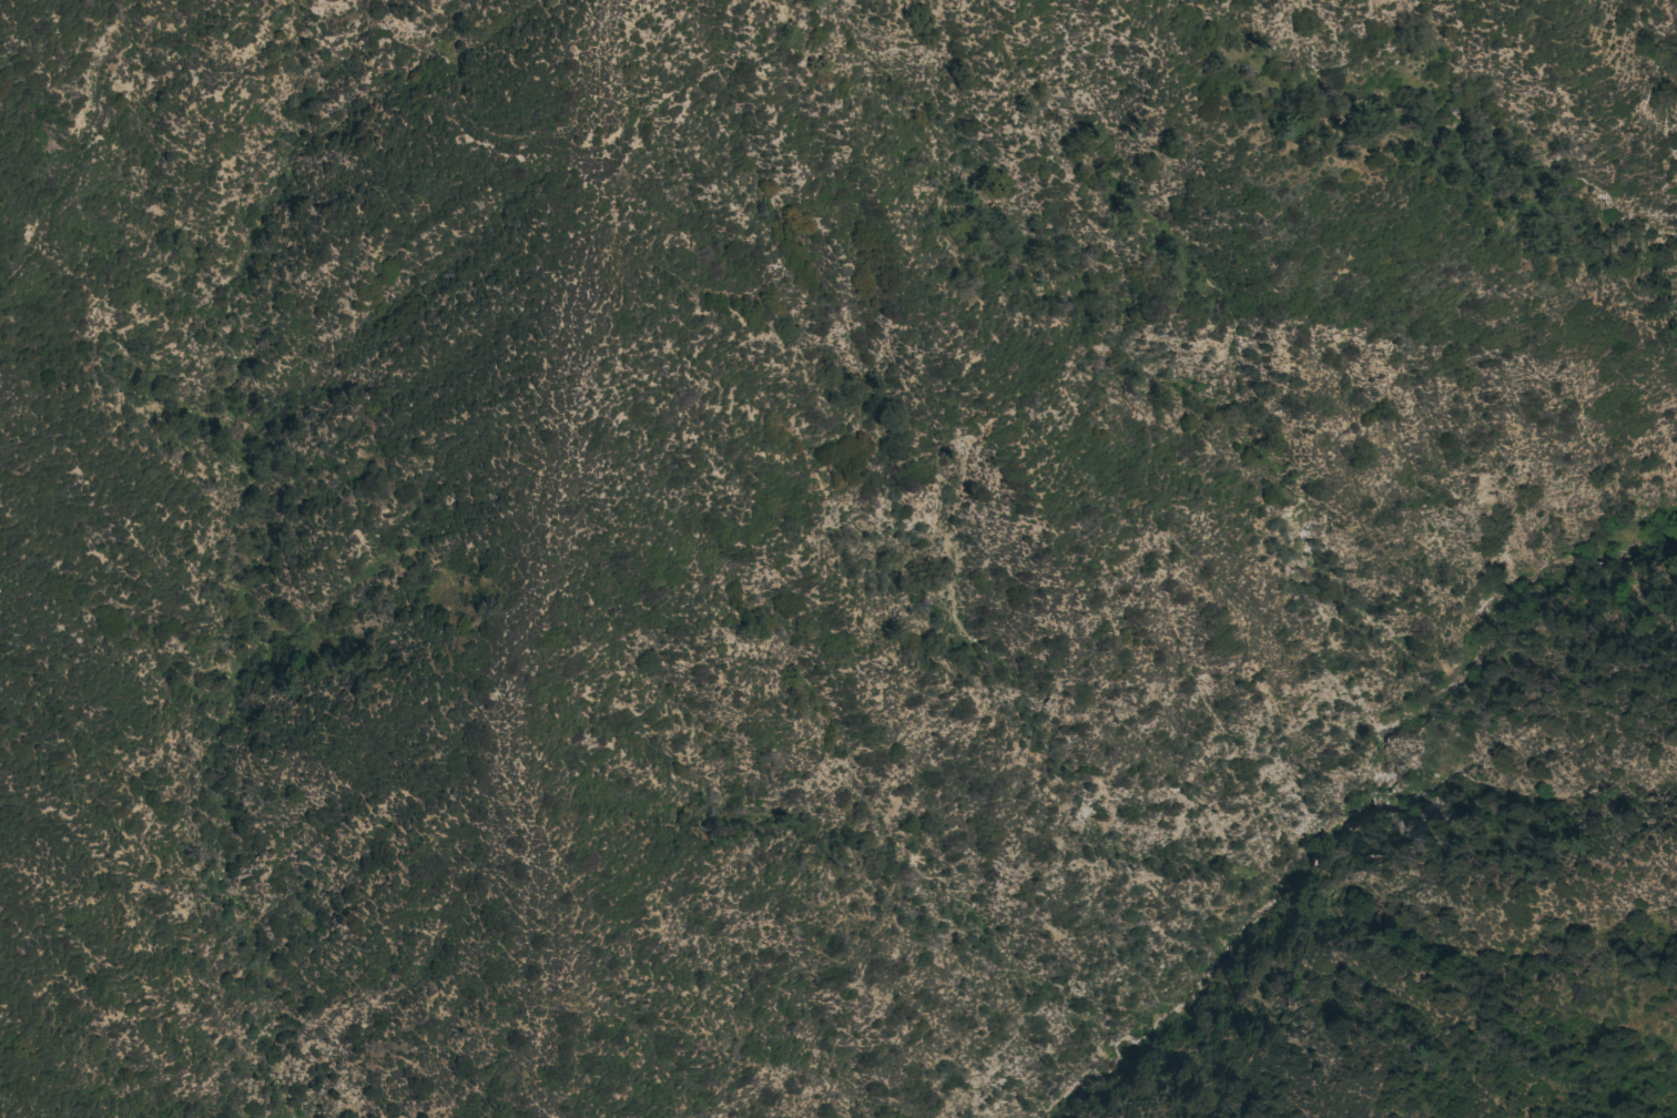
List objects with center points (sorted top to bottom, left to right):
road: (386, 50)

